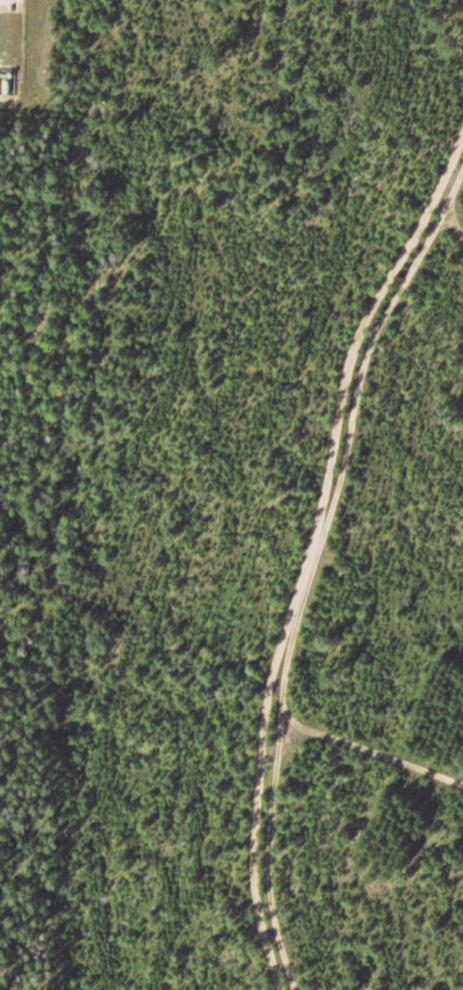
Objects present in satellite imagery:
road: (303, 554)
road: (320, 572)
road: (364, 740)

